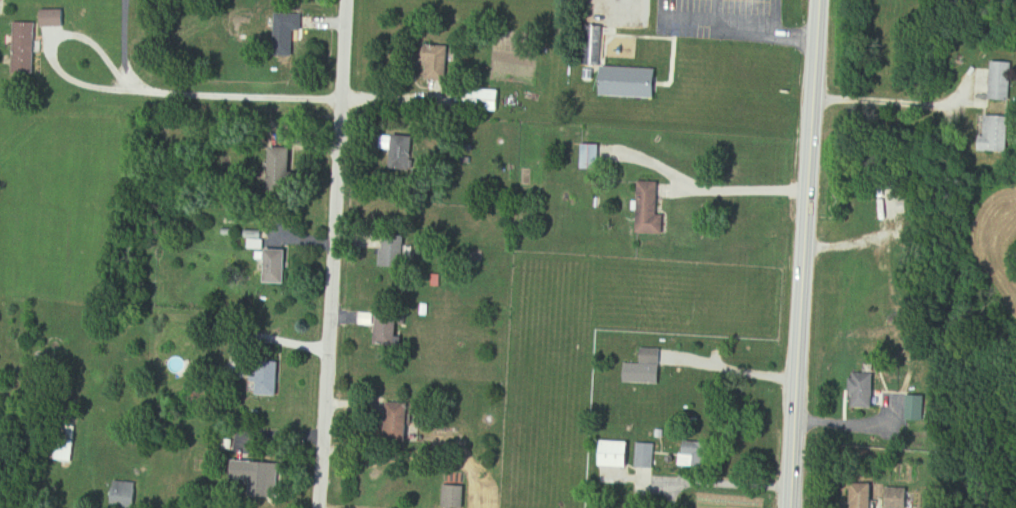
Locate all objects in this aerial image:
building: (52, 18)
road: (755, 29)
building: (288, 35)
building: (596, 46)
building: (24, 48)
road: (48, 57)
building: (441, 63)
building: (1002, 81)
building: (632, 83)
road: (295, 98)
building: (486, 100)
road: (882, 101)
building: (999, 135)
building: (404, 153)
building: (593, 157)
building: (280, 172)
road: (737, 190)
building: (889, 201)
building: (650, 209)
building: (396, 252)
road: (803, 253)
road: (333, 254)
building: (276, 267)
building: (390, 328)
building: (645, 369)
road: (742, 372)
building: (268, 380)
building: (866, 390)
building: (399, 422)
building: (64, 449)
building: (617, 453)
building: (700, 453)
building: (646, 455)
building: (259, 474)
road: (730, 484)
building: (122, 494)
building: (866, 495)
building: (454, 496)
building: (901, 497)
building: (485, 502)

